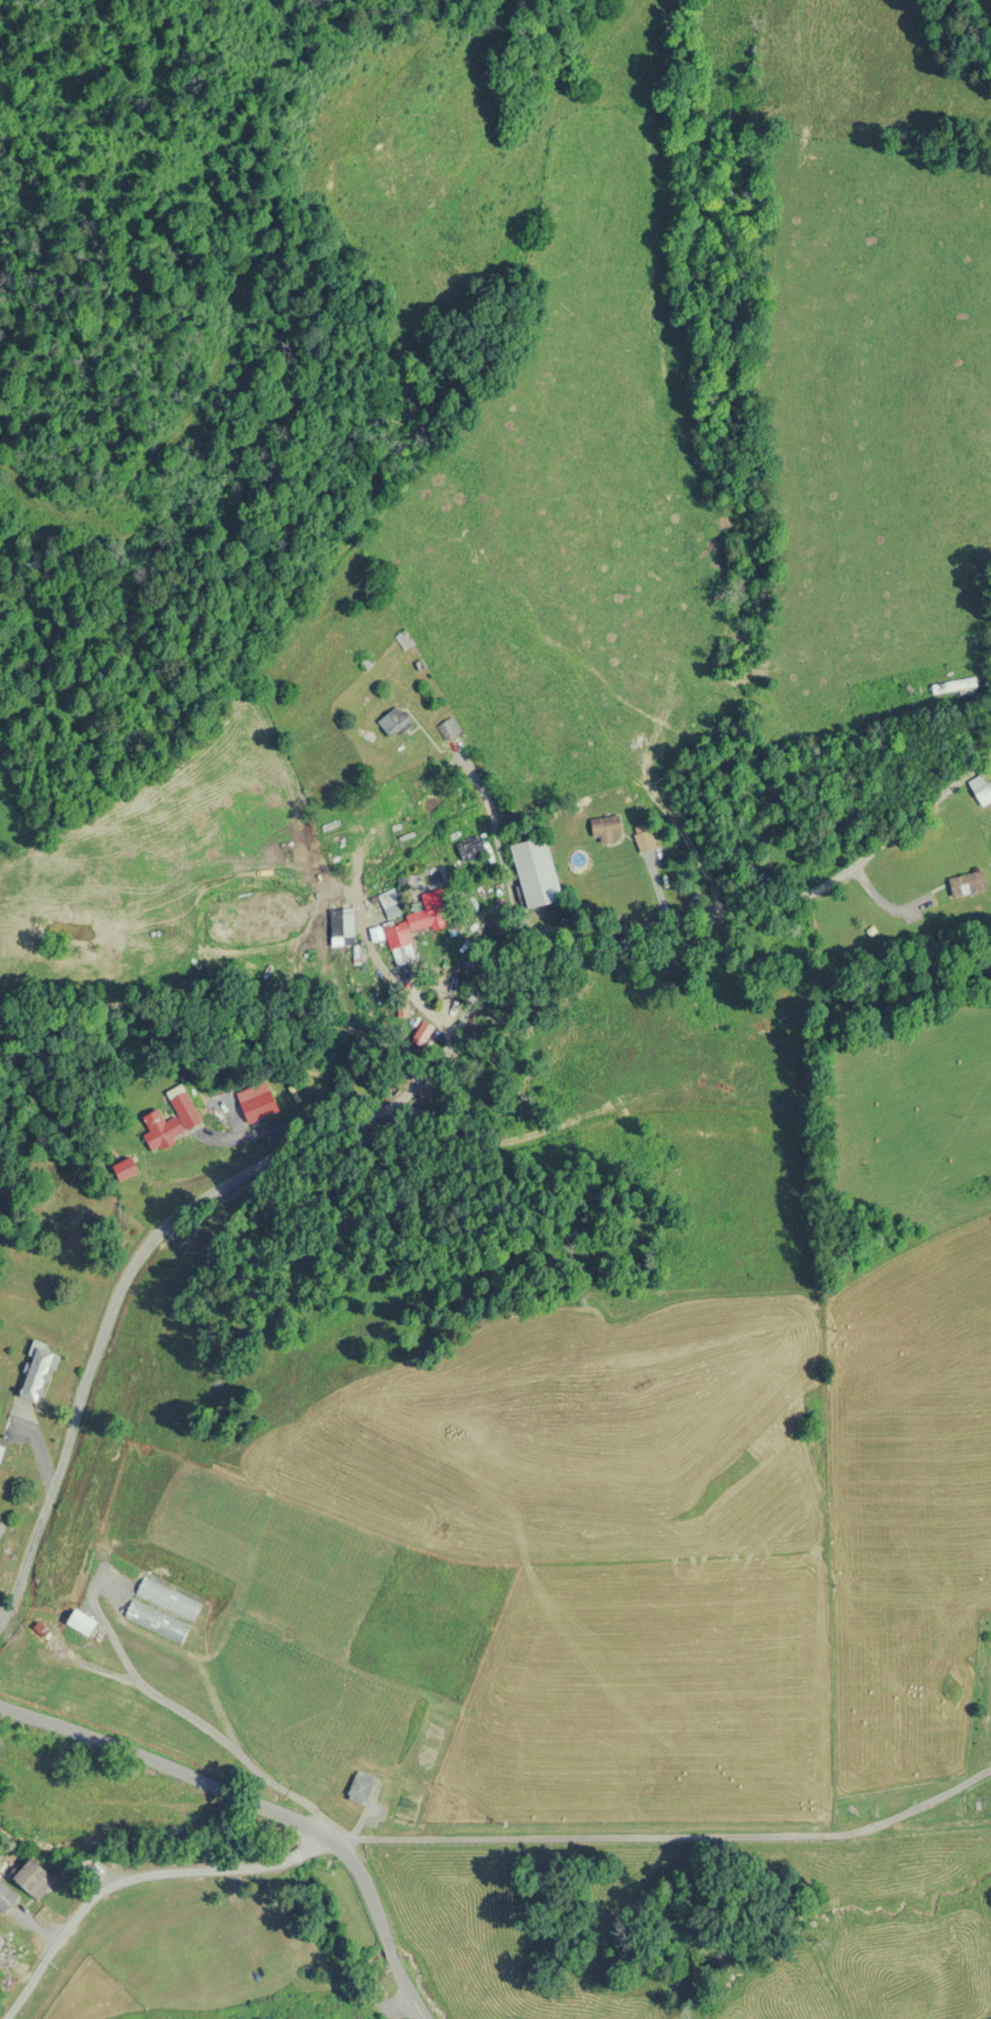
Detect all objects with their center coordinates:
building: (403, 639)
building: (952, 686)
building: (393, 722)
road: (807, 727)
building: (447, 728)
building: (980, 789)
building: (605, 829)
building: (474, 850)
building: (534, 872)
building: (966, 884)
road: (308, 904)
building: (340, 926)
road: (272, 933)
building: (404, 933)
road: (415, 1085)
building: (161, 1130)
building: (36, 1371)
building: (1, 1449)
building: (167, 1598)
building: (155, 1620)
building: (80, 1623)
building: (359, 1786)
road: (265, 1804)
road: (672, 1836)
road: (139, 1875)
building: (32, 1879)
building: (5, 1898)
building: (8, 1958)

